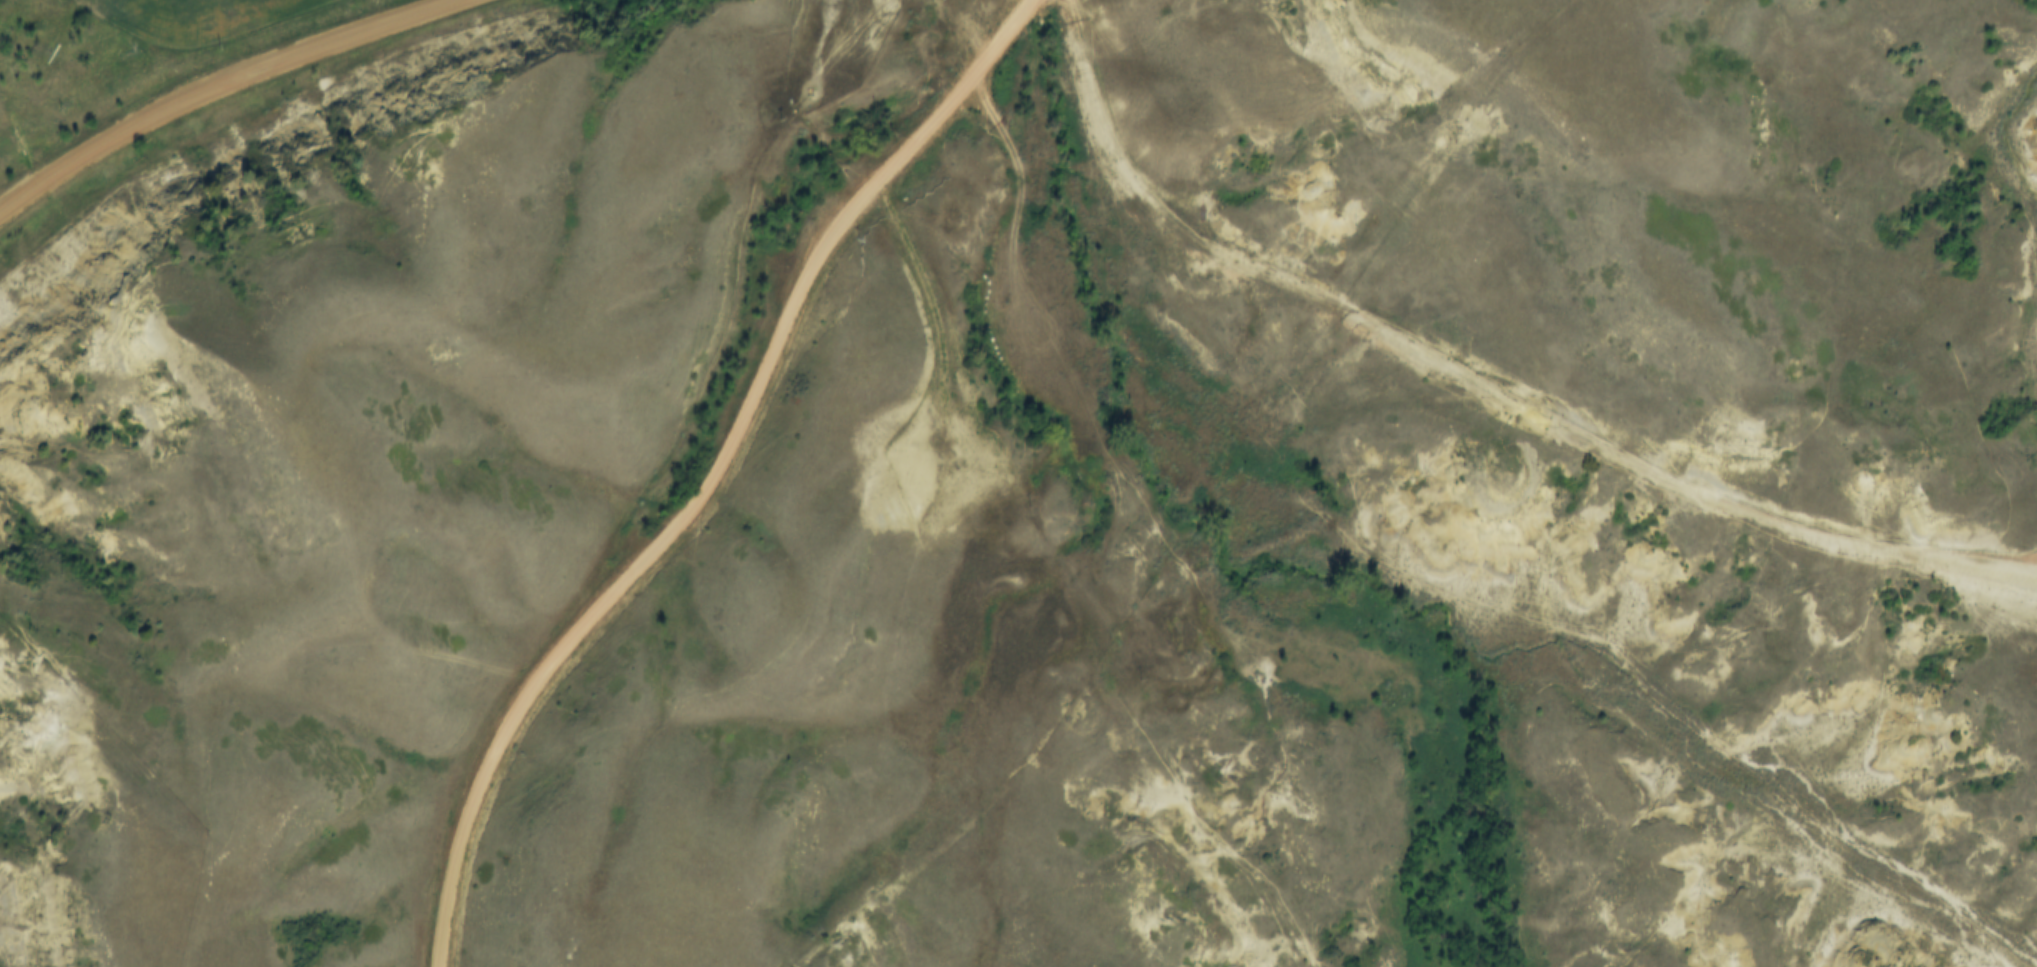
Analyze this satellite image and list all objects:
road: (227, 87)
road: (1469, 397)
road: (716, 474)

